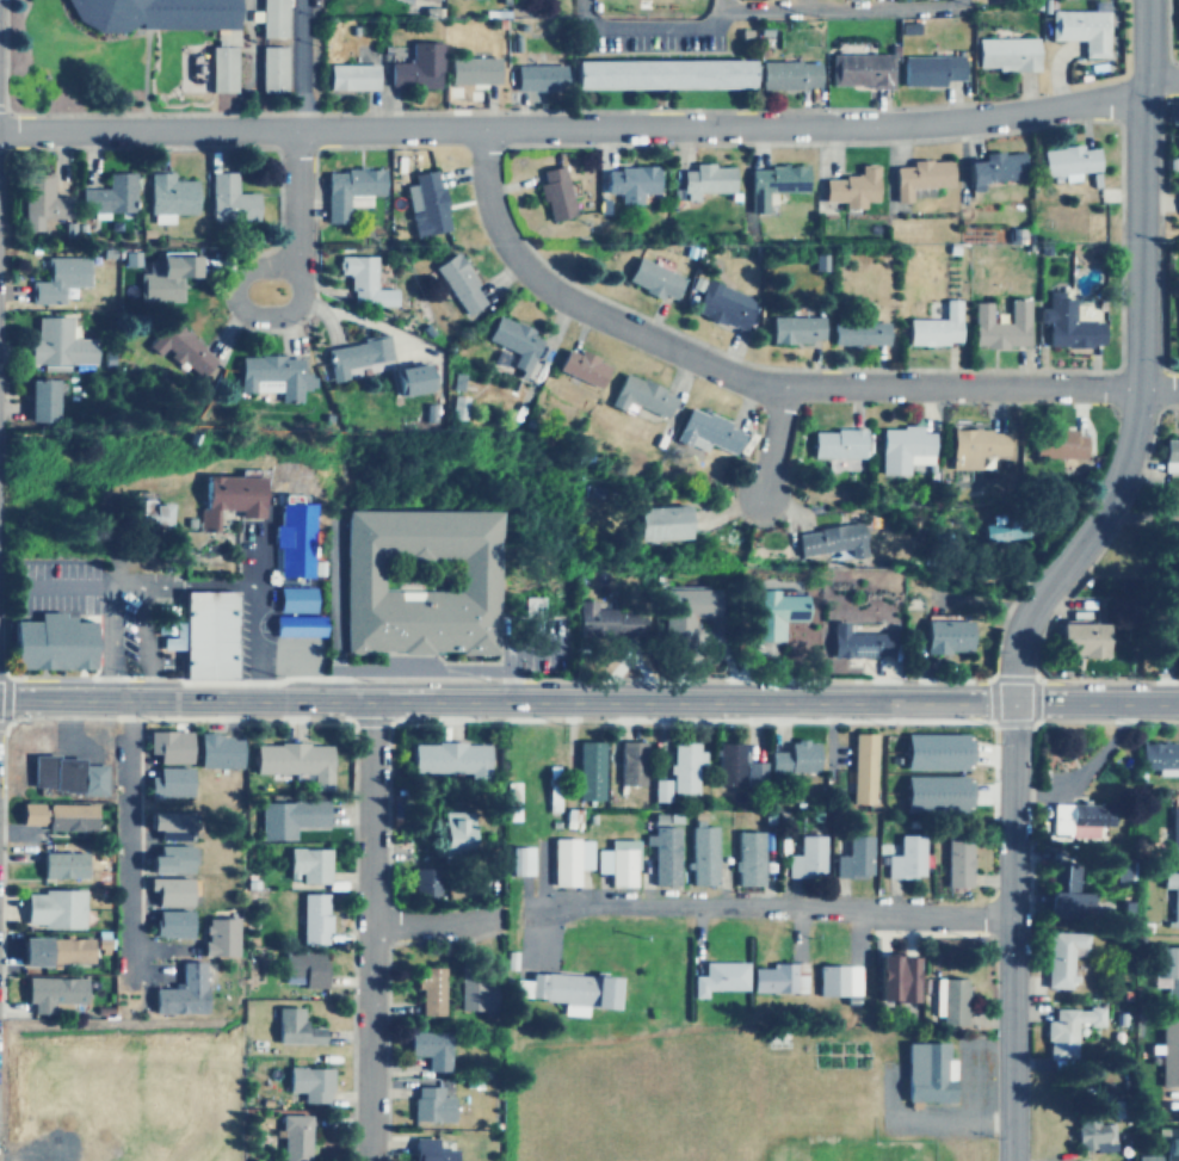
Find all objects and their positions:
building: (407, 0)
building: (152, 14)
building: (267, 18)
building: (1178, 20)
road: (647, 26)
building: (1079, 30)
building: (1002, 54)
road: (297, 64)
building: (413, 67)
building: (218, 69)
building: (268, 69)
building: (858, 69)
building: (933, 69)
building: (469, 70)
road: (144, 72)
building: (656, 74)
building: (786, 74)
building: (347, 76)
building: (535, 76)
road: (2, 107)
road: (116, 113)
road: (593, 126)
building: (1178, 146)
building: (1066, 160)
building: (990, 168)
building: (915, 177)
building: (700, 179)
building: (626, 181)
building: (768, 183)
building: (848, 187)
building: (346, 191)
building: (551, 192)
building: (167, 193)
building: (109, 196)
building: (39, 197)
building: (227, 199)
building: (1178, 203)
building: (426, 204)
building: (356, 274)
building: (57, 277)
building: (162, 279)
building: (649, 279)
building: (456, 283)
road: (296, 294)
building: (717, 304)
building: (1178, 320)
building: (1064, 323)
building: (996, 326)
building: (932, 327)
building: (791, 328)
building: (854, 332)
building: (511, 344)
building: (56, 345)
building: (179, 347)
building: (353, 354)
building: (578, 368)
building: (272, 375)
building: (408, 379)
road: (761, 385)
building: (636, 396)
building: (43, 400)
road: (924, 409)
building: (907, 426)
building: (703, 432)
road: (766, 443)
building: (835, 445)
building: (971, 445)
building: (1053, 445)
building: (900, 446)
building: (1168, 453)
building: (918, 458)
building: (223, 496)
building: (140, 513)
building: (656, 521)
building: (1178, 527)
building: (1006, 530)
building: (288, 535)
building: (825, 542)
road: (1050, 573)
building: (418, 581)
road: (192, 582)
building: (294, 601)
building: (770, 606)
building: (679, 611)
building: (606, 622)
building: (295, 625)
building: (206, 632)
building: (937, 637)
building: (1073, 638)
road: (110, 640)
road: (154, 640)
building: (1162, 641)
building: (49, 642)
building: (853, 646)
road: (504, 697)
road: (1093, 698)
building: (171, 745)
building: (217, 751)
building: (936, 751)
building: (791, 756)
building: (1156, 756)
building: (447, 758)
building: (291, 760)
building: (628, 762)
building: (724, 764)
building: (681, 766)
building: (755, 768)
building: (856, 768)
building: (586, 770)
building: (64, 774)
building: (169, 782)
building: (662, 790)
building: (918, 790)
building: (508, 793)
building: (550, 795)
building: (300, 814)
building: (54, 815)
building: (1075, 816)
building: (169, 823)
building: (1168, 832)
building: (452, 833)
road: (130, 835)
building: (662, 850)
building: (699, 856)
building: (900, 856)
building: (804, 857)
building: (745, 858)
building: (850, 858)
building: (168, 859)
building: (518, 860)
building: (566, 860)
building: (616, 863)
building: (952, 863)
building: (61, 864)
building: (307, 865)
building: (1121, 870)
building: (425, 881)
building: (167, 891)
building: (1061, 893)
building: (1169, 896)
road: (768, 904)
building: (50, 908)
building: (314, 919)
road: (426, 920)
building: (167, 924)
road: (371, 928)
building: (216, 937)
building: (48, 951)
building: (1057, 958)
building: (305, 967)
building: (1163, 968)
building: (715, 977)
building: (895, 977)
building: (774, 978)
building: (835, 981)
building: (562, 989)
building: (183, 990)
building: (427, 990)
building: (51, 994)
building: (475, 996)
building: (944, 1002)
building: (294, 1026)
building: (1063, 1032)
building: (427, 1049)
building: (1168, 1052)
building: (924, 1072)
building: (309, 1082)
building: (430, 1104)
building: (1093, 1134)
building: (294, 1137)
building: (1168, 1142)
building: (430, 1150)
building: (1143, 1157)

